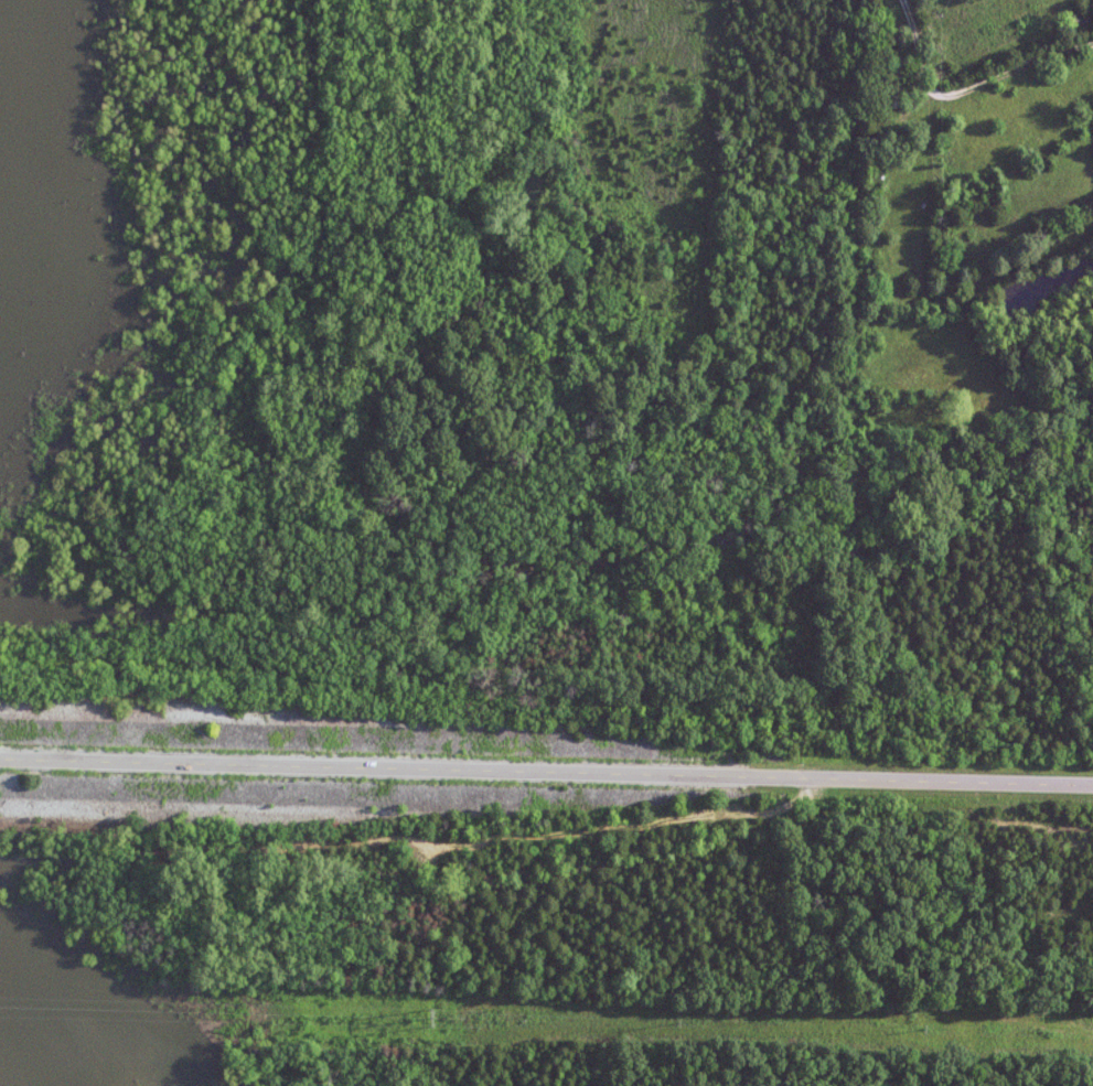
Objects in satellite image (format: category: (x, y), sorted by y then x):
road: (965, 89)
road: (546, 774)

